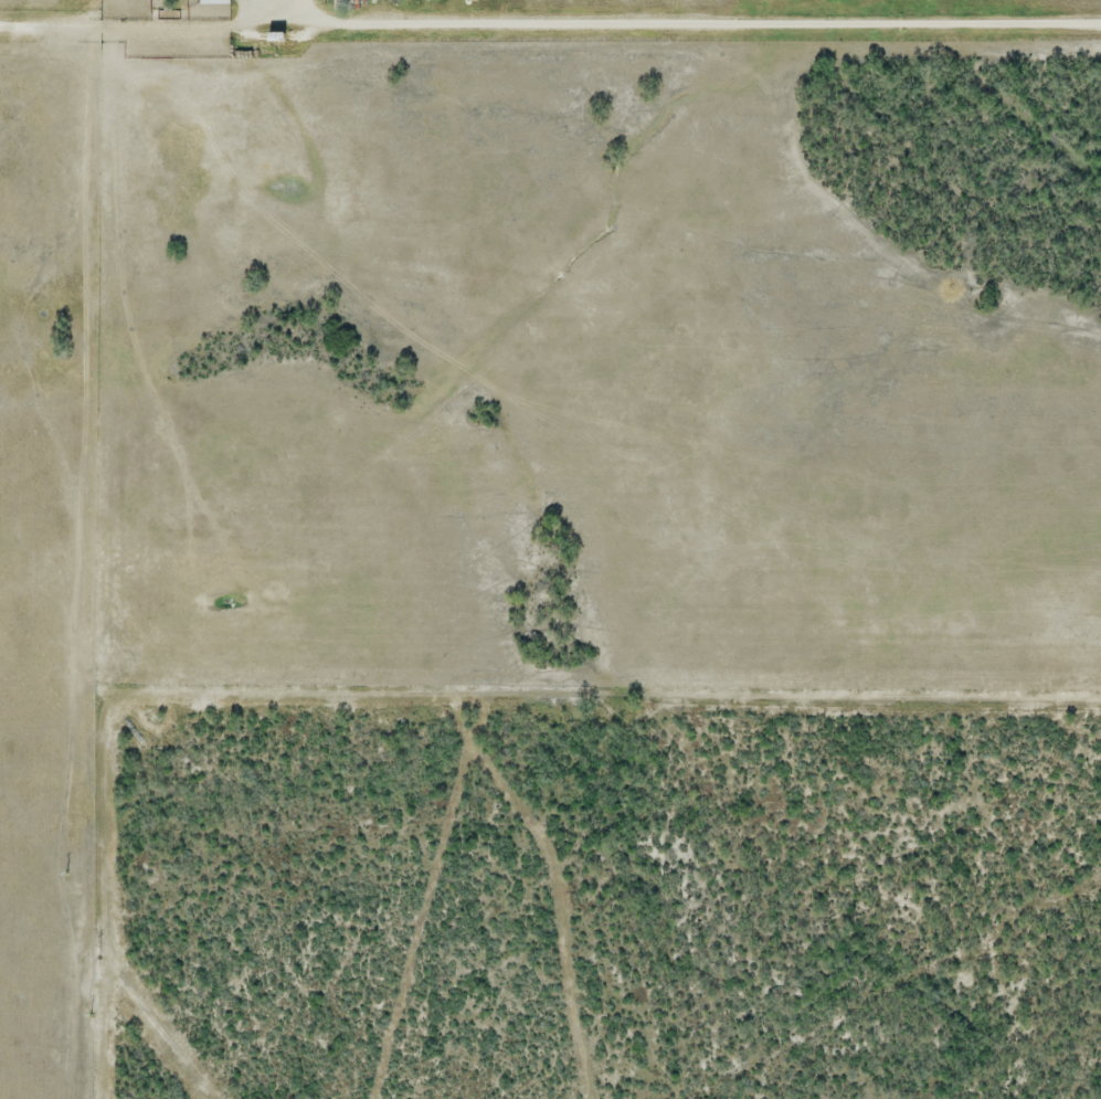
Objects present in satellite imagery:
road: (548, 25)
power tower: (99, 958)

